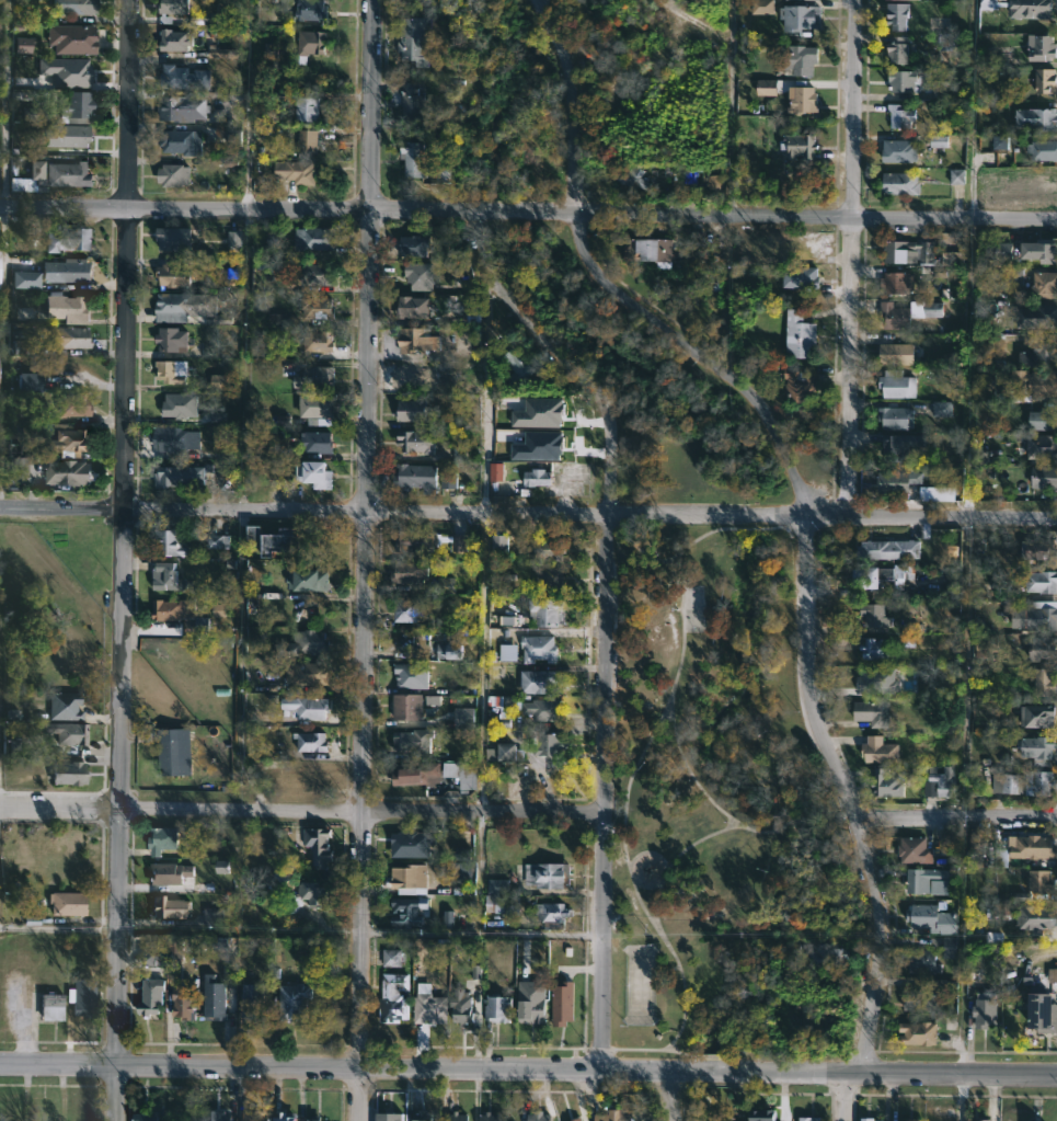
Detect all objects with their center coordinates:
building: (811, 0)
building: (911, 0)
building: (985, 3)
building: (74, 7)
building: (762, 7)
building: (173, 9)
building: (1034, 9)
building: (311, 10)
building: (898, 14)
building: (802, 18)
building: (417, 37)
building: (73, 38)
building: (175, 41)
building: (311, 44)
building: (945, 44)
building: (22, 45)
building: (896, 48)
building: (1043, 48)
building: (271, 49)
building: (802, 59)
building: (65, 71)
building: (184, 78)
building: (1044, 79)
building: (905, 80)
building: (767, 87)
building: (414, 99)
building: (806, 100)
road: (3, 103)
road: (573, 103)
building: (73, 107)
building: (182, 108)
building: (308, 108)
road: (729, 108)
building: (31, 113)
building: (900, 115)
building: (1037, 116)
building: (71, 136)
building: (230, 137)
building: (939, 140)
building: (182, 141)
building: (308, 141)
building: (1001, 142)
building: (802, 146)
building: (1044, 150)
building: (901, 151)
building: (413, 159)
building: (300, 171)
building: (443, 173)
building: (174, 175)
building: (54, 176)
building: (957, 176)
building: (633, 178)
building: (903, 184)
road: (528, 211)
building: (67, 239)
building: (175, 239)
building: (233, 239)
building: (315, 239)
building: (415, 247)
building: (699, 247)
building: (1002, 250)
building: (646, 251)
building: (1039, 251)
building: (908, 252)
road: (854, 259)
building: (65, 272)
building: (318, 275)
building: (174, 276)
building: (421, 276)
building: (797, 276)
building: (1015, 276)
building: (25, 279)
building: (898, 284)
building: (1043, 286)
building: (184, 307)
building: (472, 307)
building: (73, 308)
building: (414, 308)
building: (319, 310)
road: (518, 316)
building: (895, 317)
building: (1036, 317)
building: (797, 335)
building: (72, 338)
building: (173, 340)
building: (418, 341)
building: (319, 342)
building: (22, 347)
building: (1042, 353)
road: (703, 354)
building: (898, 354)
road: (243, 362)
building: (518, 368)
building: (169, 373)
building: (417, 377)
building: (313, 378)
building: (219, 381)
building: (986, 381)
building: (30, 382)
building: (801, 384)
building: (1030, 384)
building: (898, 386)
building: (73, 405)
building: (180, 405)
building: (318, 407)
building: (941, 409)
building: (413, 411)
building: (539, 413)
building: (897, 419)
building: (1044, 421)
building: (176, 441)
building: (418, 442)
building: (320, 443)
building: (67, 444)
building: (903, 446)
building: (538, 447)
building: (1042, 447)
building: (18, 471)
building: (496, 471)
building: (69, 473)
building: (187, 476)
building: (315, 476)
building: (416, 477)
building: (449, 477)
building: (538, 478)
building: (1046, 479)
building: (901, 481)
building: (937, 494)
road: (528, 514)
building: (254, 535)
building: (428, 540)
building: (173, 541)
building: (218, 541)
building: (313, 542)
building: (284, 544)
building: (498, 545)
road: (632, 546)
building: (549, 547)
building: (892, 550)
building: (1042, 552)
road: (125, 560)
road: (366, 560)
building: (410, 571)
building: (877, 574)
building: (170, 576)
building: (550, 577)
building: (309, 582)
building: (1041, 582)
building: (446, 585)
building: (225, 597)
park: (691, 608)
building: (179, 609)
building: (219, 610)
building: (543, 610)
building: (412, 611)
building: (874, 614)
building: (1036, 616)
building: (307, 643)
building: (986, 645)
building: (1044, 648)
building: (536, 649)
building: (450, 650)
building: (873, 650)
building: (507, 652)
road: (238, 660)
road: (482, 661)
road: (963, 671)
building: (308, 673)
building: (413, 675)
building: (541, 680)
building: (876, 682)
building: (1042, 683)
building: (507, 702)
building: (65, 705)
building: (410, 706)
building: (309, 707)
building: (543, 708)
building: (873, 712)
building: (1036, 716)
building: (467, 718)
building: (70, 733)
road: (600, 733)
building: (414, 739)
building: (312, 741)
building: (547, 742)
building: (884, 746)
building: (1035, 746)
building: (507, 752)
building: (173, 756)
building: (69, 773)
building: (418, 773)
building: (975, 775)
building: (468, 778)
building: (889, 782)
building: (1006, 782)
building: (1037, 783)
building: (942, 785)
road: (848, 792)
road: (300, 810)
park: (721, 811)
road: (957, 821)
building: (162, 839)
road: (696, 839)
building: (415, 843)
building: (976, 843)
building: (320, 845)
building: (1031, 848)
building: (912, 851)
building: (1002, 857)
road: (663, 865)
building: (222, 867)
building: (464, 872)
building: (170, 873)
building: (545, 876)
building: (406, 877)
building: (924, 879)
building: (1038, 881)
building: (497, 886)
building: (314, 893)
building: (68, 903)
building: (502, 904)
building: (171, 907)
building: (407, 910)
building: (552, 914)
building: (214, 916)
building: (927, 916)
building: (1037, 918)
road: (59, 928)
road: (480, 935)
building: (219, 943)
building: (949, 947)
building: (174, 949)
building: (151, 958)
building: (391, 958)
building: (830, 958)
building: (919, 960)
building: (475, 972)
building: (1052, 975)
building: (83, 996)
building: (151, 997)
building: (214, 997)
building: (394, 998)
building: (922, 1000)
building: (184, 1002)
building: (253, 1002)
building: (295, 1002)
building: (563, 1002)
building: (531, 1004)
building: (51, 1006)
building: (464, 1007)
building: (429, 1008)
building: (498, 1008)
building: (987, 1009)
building: (1039, 1011)
road: (678, 1030)
building: (920, 1032)
road: (631, 1048)
road: (528, 1068)
road: (664, 1093)
road: (843, 1097)
building: (761, 1114)
building: (216, 1116)
building: (255, 1116)
building: (388, 1116)
building: (424, 1116)
building: (459, 1116)
building: (540, 1116)
building: (146, 1117)
building: (289, 1117)
building: (491, 1117)
building: (609, 1117)
building: (574, 1118)
building: (807, 1119)
building: (868, 1119)
building: (909, 1119)
building: (318, 1120)
building: (983, 1120)

